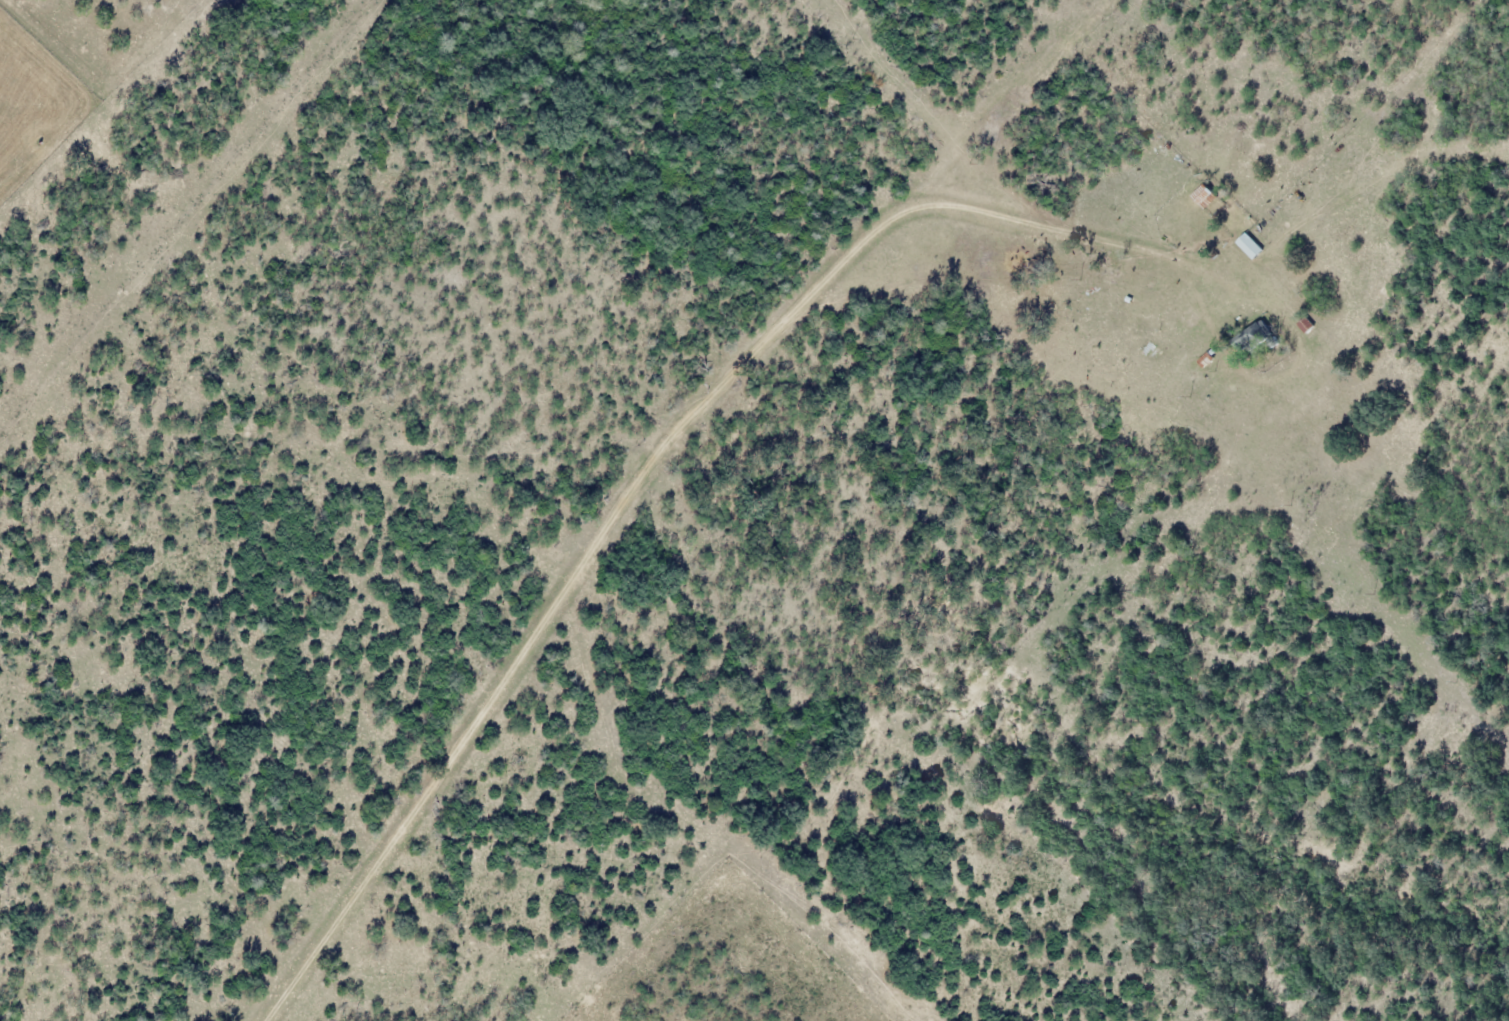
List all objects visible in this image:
building: (1204, 197)
building: (1250, 245)
building: (1251, 336)
road: (650, 481)

